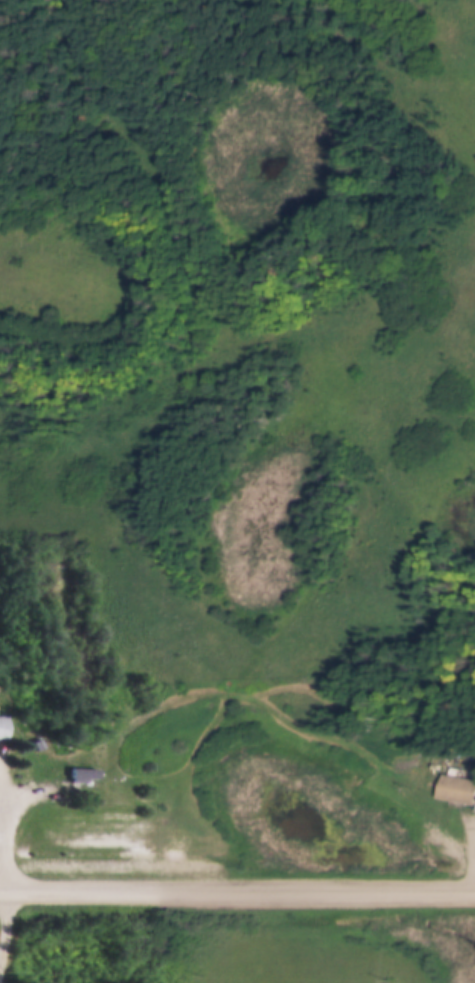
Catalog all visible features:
building: (3, 723)
building: (38, 740)
building: (82, 771)
building: (456, 786)
road: (5, 857)
road: (237, 891)

